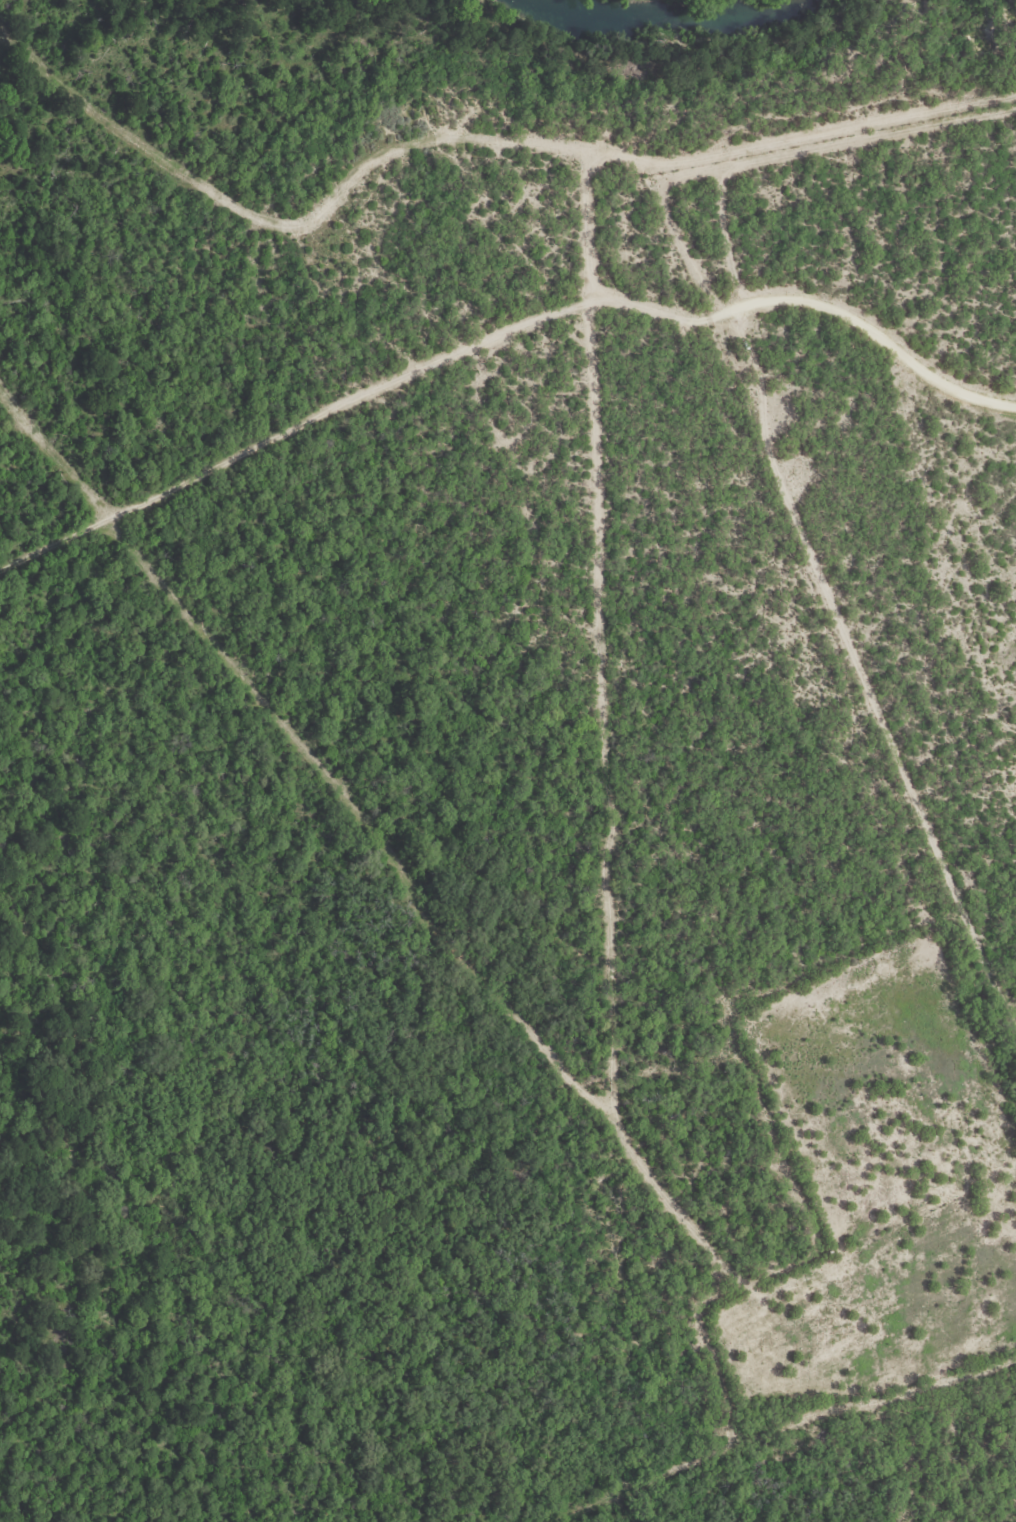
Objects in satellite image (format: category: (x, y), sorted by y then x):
river: (671, 23)
road: (504, 335)
road: (764, 432)
road: (660, 1482)

